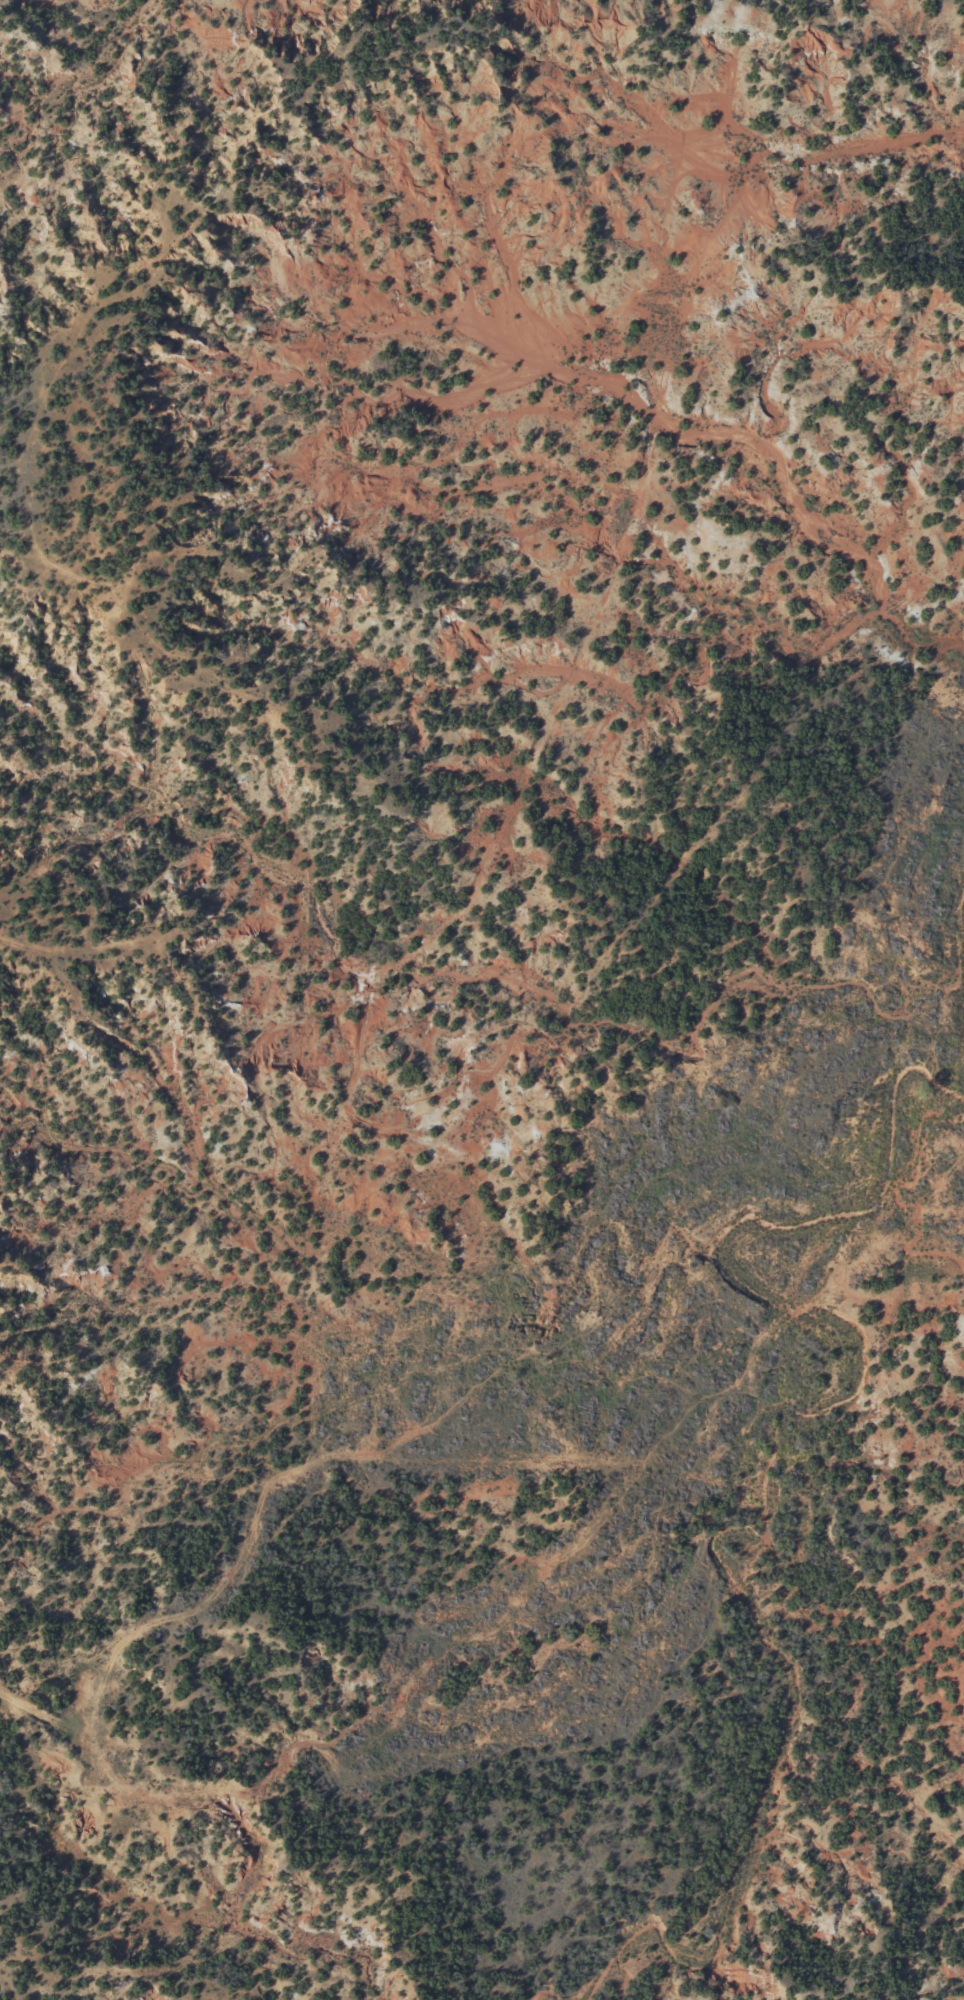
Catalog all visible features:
road: (22, 1787)

